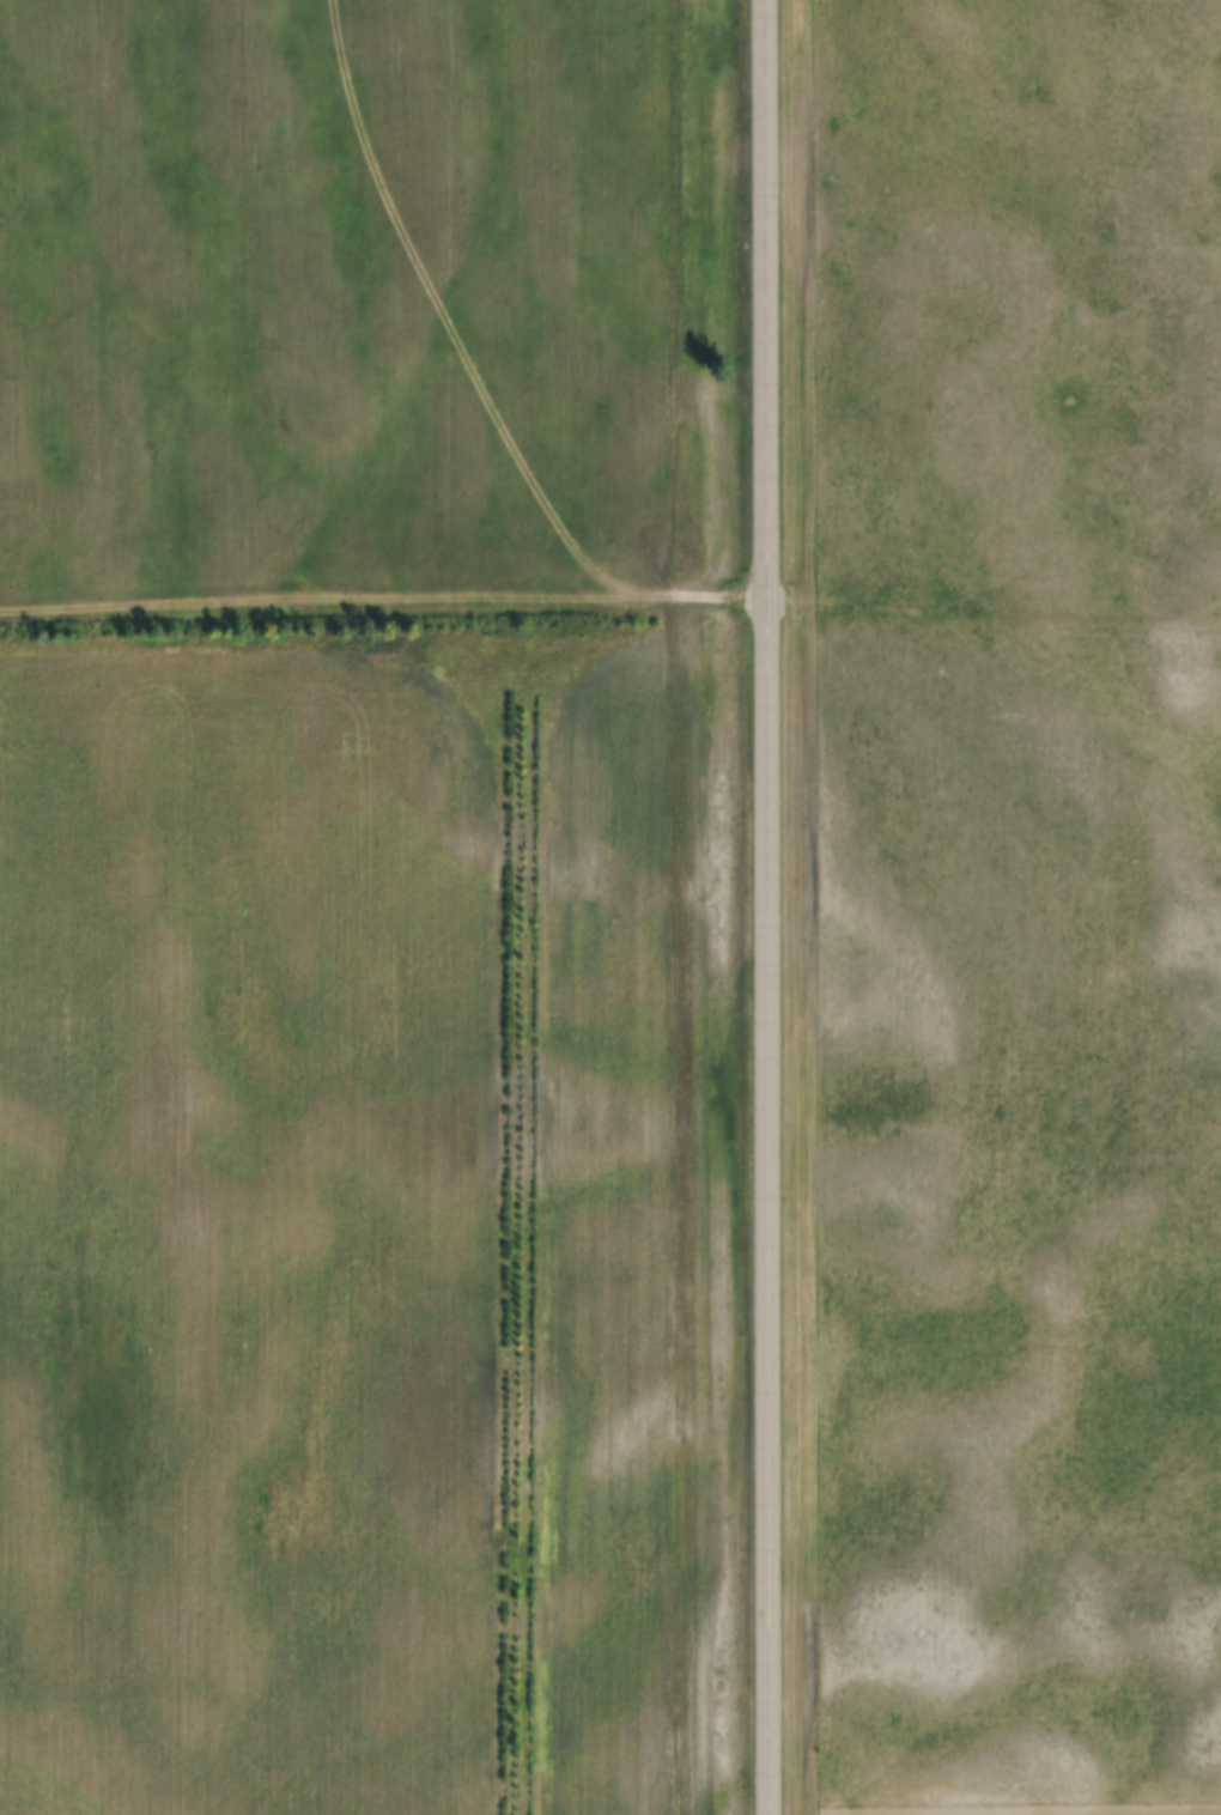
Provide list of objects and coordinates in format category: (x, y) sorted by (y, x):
road: (765, 907)

